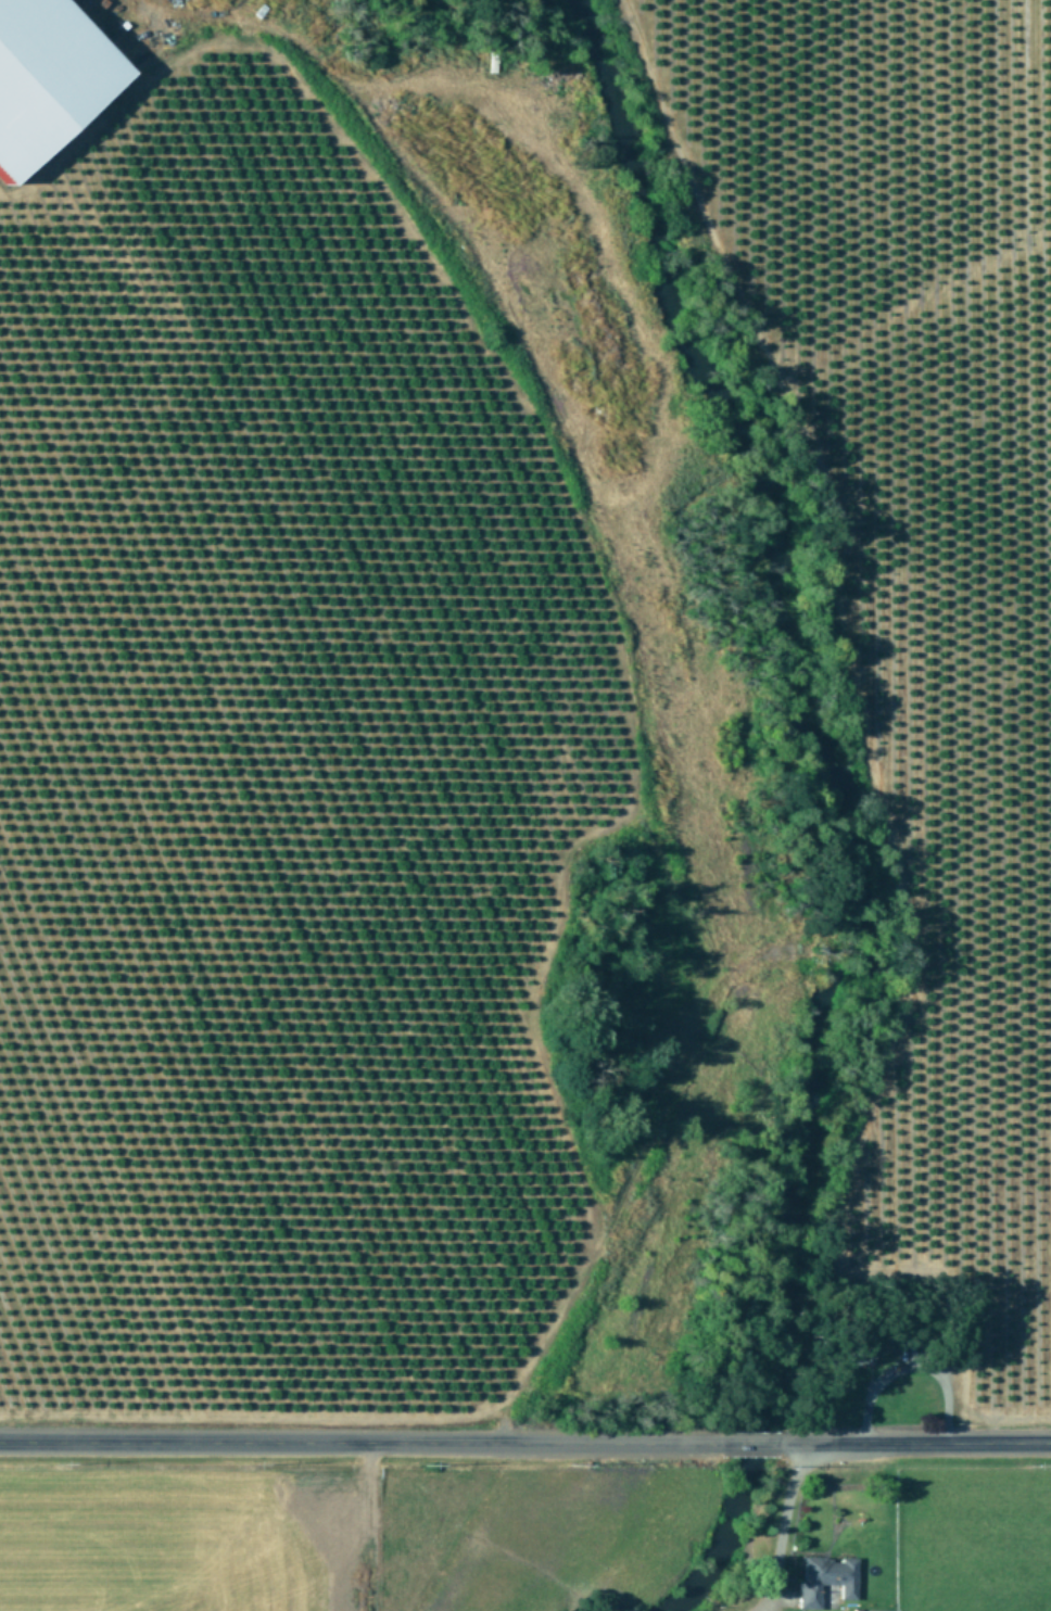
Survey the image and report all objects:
building: (46, 77)
crop: (928, 731)
crop: (291, 753)
road: (364, 1446)
road: (750, 1446)
road: (911, 1447)
building: (826, 1580)

